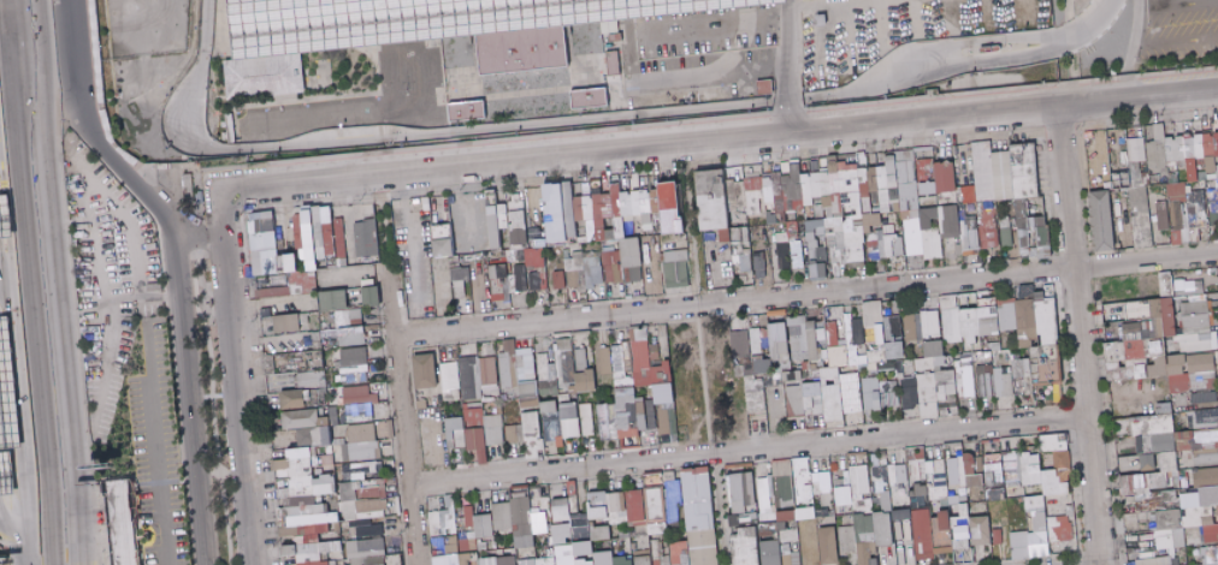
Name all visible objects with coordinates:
road: (788, 1)
road: (1184, 4)
road: (985, 11)
road: (1022, 11)
road: (950, 13)
road: (913, 16)
building: (410, 19)
road: (877, 22)
road: (728, 24)
road: (786, 28)
road: (820, 29)
road: (847, 32)
road: (171, 35)
road: (129, 40)
road: (72, 46)
road: (1158, 46)
road: (373, 48)
building: (524, 49)
road: (37, 53)
building: (1082, 64)
building: (101, 73)
road: (146, 75)
road: (708, 75)
building: (266, 77)
building: (765, 87)
road: (102, 89)
road: (97, 90)
road: (138, 90)
building: (591, 97)
road: (1001, 109)
building: (468, 111)
road: (130, 114)
road: (591, 120)
road: (785, 120)
building: (1211, 121)
building: (1206, 131)
building: (1158, 132)
building: (1194, 133)
building: (1123, 136)
road: (477, 142)
building: (1214, 143)
building: (1207, 144)
building: (1188, 145)
building: (1198, 145)
building: (1135, 148)
building: (1178, 148)
building: (1169, 149)
building: (1155, 154)
building: (903, 155)
road: (514, 157)
building: (1123, 157)
building: (830, 159)
building: (1216, 159)
building: (1199, 160)
building: (793, 162)
building: (846, 162)
building: (1179, 162)
building: (1208, 163)
building: (832, 166)
building: (845, 166)
building: (1200, 166)
building: (922, 169)
building: (1024, 169)
building: (1133, 169)
building: (1163, 169)
building: (1190, 169)
building: (891, 172)
building: (905, 172)
building: (1217, 173)
building: (785, 174)
building: (767, 176)
building: (1001, 176)
building: (1201, 176)
road: (156, 177)
building: (944, 177)
building: (1210, 177)
building: (881, 178)
building: (652, 179)
building: (873, 179)
building: (1119, 179)
building: (1153, 179)
building: (721, 180)
building: (847, 180)
building: (862, 180)
building: (1140, 180)
building: (614, 182)
building: (928, 182)
building: (834, 183)
building: (824, 184)
building: (815, 185)
building: (1186, 185)
building: (1210, 185)
building: (796, 186)
building: (189, 188)
building: (579, 188)
building: (596, 188)
building: (645, 189)
building: (768, 189)
building: (805, 189)
building: (1175, 189)
building: (1216, 189)
building: (958, 190)
road: (170, 192)
building: (786, 192)
building: (739, 194)
building: (752, 194)
building: (906, 194)
building: (1210, 194)
building: (568, 195)
building: (777, 195)
building: (863, 195)
building: (893, 195)
building: (729, 196)
building: (883, 196)
building: (874, 197)
building: (450, 198)
building: (816, 198)
building: (1173, 198)
building: (679, 200)
building: (711, 200)
building: (644, 201)
building: (655, 201)
building: (826, 201)
building: (851, 201)
road: (218, 202)
building: (635, 203)
building: (769, 203)
building: (817, 203)
building: (426, 204)
building: (626, 204)
building: (835, 204)
building: (607, 206)
building: (846, 206)
building: (897, 206)
road: (172, 207)
building: (587, 207)
building: (668, 207)
building: (514, 208)
building: (579, 208)
building: (597, 208)
building: (885, 208)
building: (1030, 208)
building: (568, 209)
building: (616, 210)
building: (1212, 210)
building: (817, 212)
building: (824, 212)
building: (829, 212)
building: (960, 212)
building: (297, 213)
building: (1195, 213)
road: (205, 214)
building: (846, 214)
building: (904, 214)
building: (913, 214)
building: (1025, 214)
building: (315, 215)
building: (326, 215)
building: (502, 215)
building: (1161, 215)
building: (1175, 215)
building: (927, 216)
building: (1139, 216)
building: (637, 218)
building: (646, 218)
building: (655, 218)
building: (770, 218)
building: (969, 218)
building: (627, 219)
road: (386, 220)
building: (492, 220)
building: (516, 220)
building: (985, 220)
building: (1101, 220)
road: (125, 221)
road: (403, 221)
building: (870, 221)
building: (947, 221)
building: (744, 222)
building: (934, 222)
building: (1004, 222)
building: (7, 224)
building: (598, 224)
building: (833, 224)
building: (267, 225)
building: (570, 226)
building: (680, 226)
building: (648, 227)
building: (963, 227)
building: (580, 228)
building: (814, 228)
building: (888, 228)
building: (308, 230)
building: (562, 230)
building: (853, 230)
building: (897, 230)
building: (298, 231)
building: (441, 231)
building: (549, 231)
building: (828, 231)
building: (713, 232)
road: (200, 233)
road: (193, 234)
building: (318, 234)
building: (609, 234)
building: (723, 234)
building: (533, 236)
building: (296, 237)
building: (519, 237)
building: (912, 237)
building: (970, 237)
building: (327, 238)
building: (339, 238)
building: (365, 238)
building: (601, 238)
building: (781, 238)
building: (927, 238)
building: (557, 239)
building: (738, 239)
building: (835, 239)
building: (818, 240)
building: (261, 242)
building: (540, 243)
building: (309, 245)
building: (515, 245)
building: (525, 245)
building: (875, 245)
building: (888, 245)
building: (443, 248)
building: (489, 249)
building: (608, 249)
building: (817, 250)
road: (189, 252)
building: (319, 252)
building: (629, 252)
building: (487, 254)
building: (564, 254)
building: (590, 254)
building: (794, 254)
building: (301, 255)
building: (441, 255)
building: (680, 255)
building: (782, 255)
building: (520, 256)
building: (534, 256)
building: (666, 256)
building: (312, 260)
building: (319, 261)
building: (573, 261)
building: (282, 262)
building: (291, 263)
road: (170, 264)
building: (302, 264)
building: (311, 264)
building: (758, 264)
building: (265, 266)
building: (613, 267)
building: (589, 269)
building: (283, 270)
building: (498, 272)
parking lot: (110, 274)
building: (457, 275)
building: (520, 278)
building: (277, 279)
road: (30, 281)
road: (99, 281)
building: (301, 281)
building: (498, 284)
building: (441, 285)
building: (1190, 287)
building: (273, 292)
road: (137, 293)
road: (59, 296)
building: (372, 296)
building: (342, 308)
road: (185, 310)
building: (1136, 311)
building: (1011, 316)
building: (951, 317)
building: (875, 322)
building: (932, 322)
building: (288, 323)
building: (898, 325)
building: (913, 327)
road: (1077, 334)
building: (350, 335)
building: (792, 339)
building: (982, 345)
building: (1037, 345)
building: (897, 350)
building: (1172, 350)
road: (708, 352)
building: (933, 355)
building: (830, 358)
building: (566, 361)
building: (607, 361)
building: (509, 363)
building: (355, 365)
building: (545, 365)
building: (764, 365)
building: (490, 370)
building: (426, 371)
building: (585, 373)
road: (6, 374)
building: (451, 375)
building: (970, 376)
building: (471, 377)
building: (528, 377)
building: (796, 379)
building: (313, 380)
building: (1005, 381)
building: (7, 382)
building: (548, 387)
building: (853, 391)
building: (873, 393)
building: (939, 394)
building: (894, 398)
road: (233, 399)
building: (294, 399)
building: (361, 404)
building: (550, 406)
road: (214, 410)
building: (629, 414)
road: (404, 416)
building: (572, 420)
building: (587, 420)
building: (309, 427)
road: (185, 428)
road: (148, 429)
building: (484, 432)
building: (456, 433)
building: (1057, 440)
building: (362, 442)
building: (1141, 464)
building: (366, 469)
building: (1046, 470)
building: (954, 471)
building: (972, 471)
building: (1207, 484)
building: (997, 486)
building: (1166, 486)
building: (377, 488)
building: (743, 492)
building: (768, 493)
building: (544, 499)
building: (646, 506)
building: (309, 508)
building: (367, 510)
building: (808, 513)
building: (585, 515)
building: (903, 515)
building: (702, 516)
building: (518, 518)
building: (786, 518)
building: (543, 522)
building: (128, 523)
building: (475, 529)
building: (885, 529)
building: (982, 530)
building: (448, 531)
building: (1034, 531)
building: (603, 533)
building: (944, 533)
building: (924, 534)
building: (850, 539)
building: (867, 540)
road: (11, 541)
building: (829, 546)
building: (586, 549)
building: (368, 552)
building: (681, 553)
building: (570, 555)
building: (1210, 555)
building: (613, 559)
building: (501, 560)
building: (548, 561)
building: (1158, 561)

